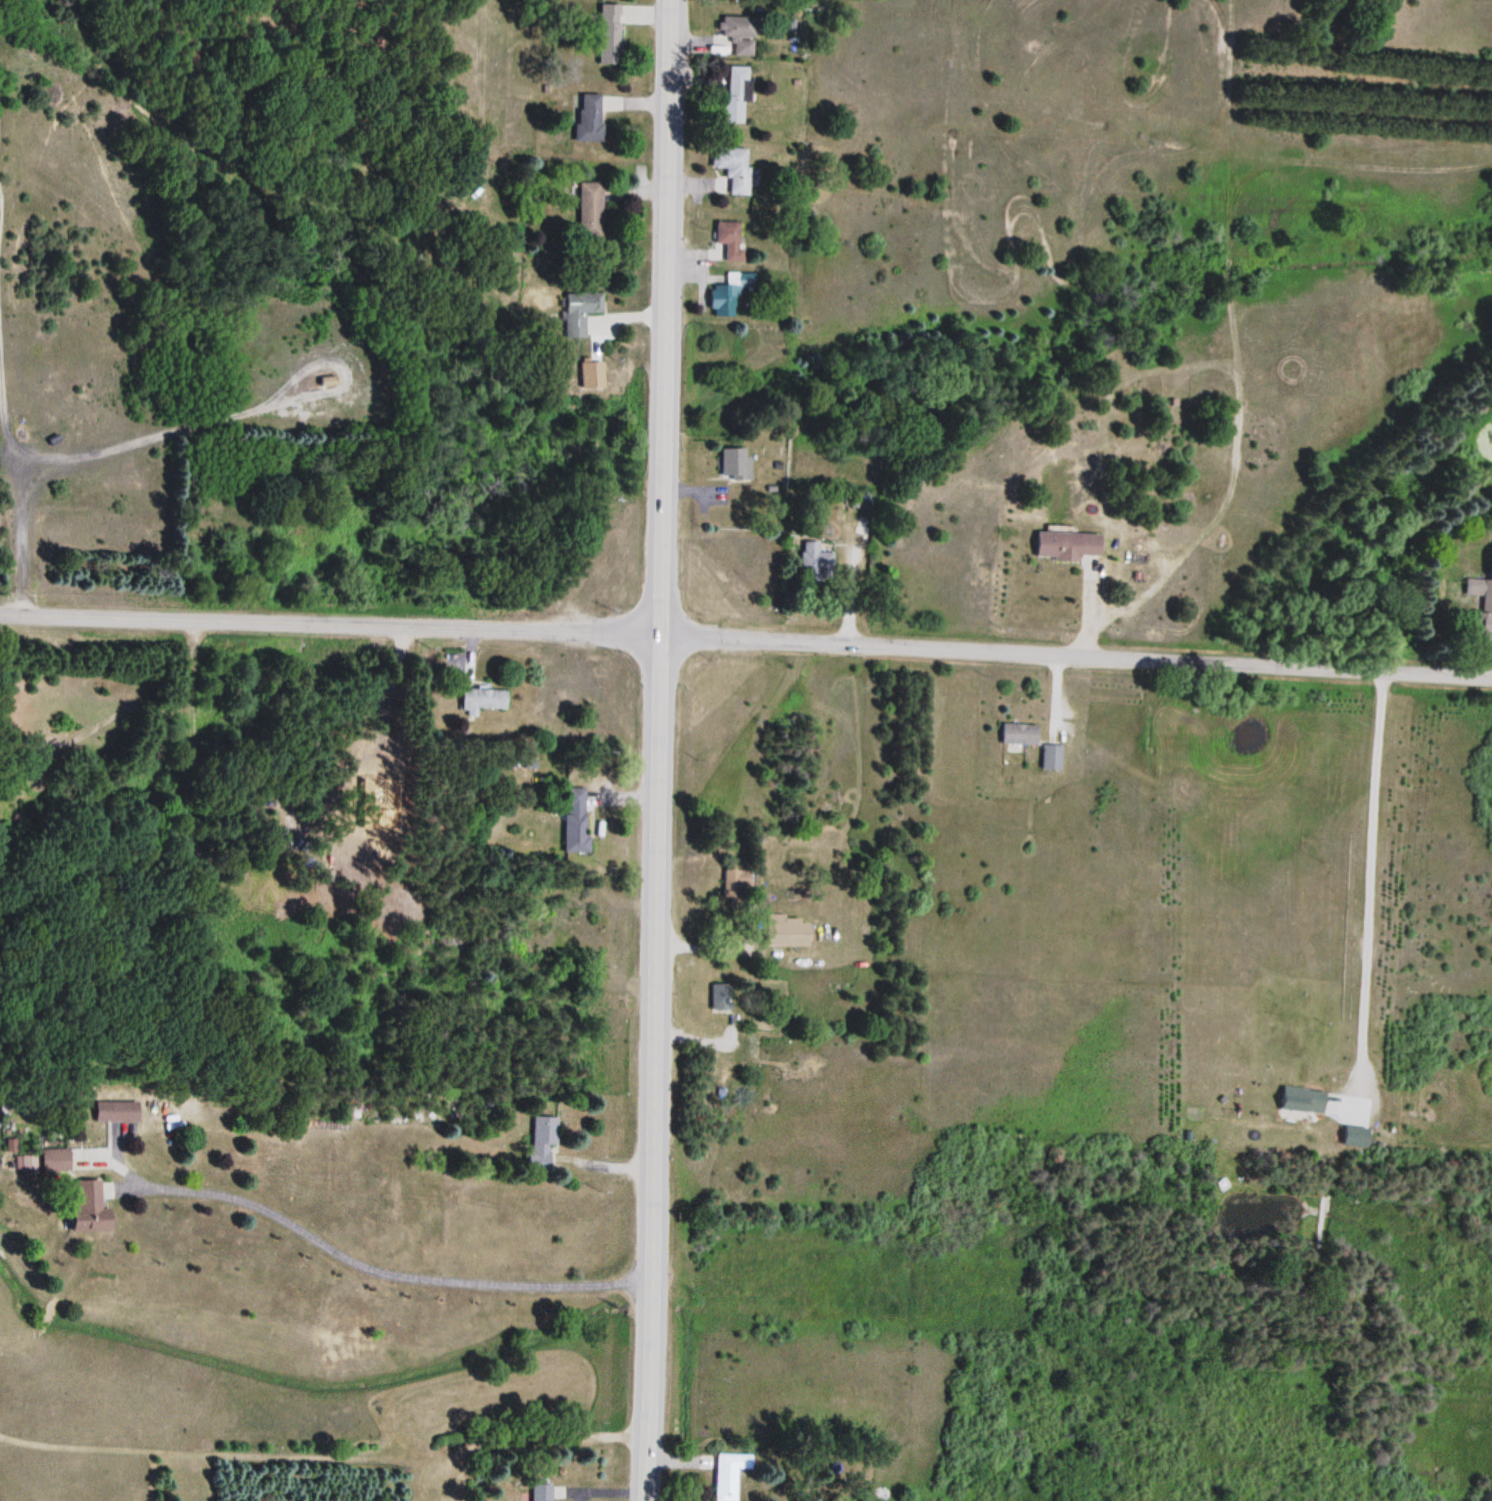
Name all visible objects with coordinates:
building: (737, 27)
building: (611, 35)
building: (738, 94)
building: (590, 111)
building: (735, 168)
building: (590, 209)
building: (731, 239)
building: (730, 294)
building: (580, 312)
building: (329, 381)
building: (736, 464)
building: (1071, 544)
building: (817, 561)
road: (328, 625)
building: (1488, 629)
road: (1075, 655)
building: (483, 701)
building: (1021, 735)
road: (656, 750)
building: (1053, 758)
building: (575, 821)
building: (736, 883)
building: (791, 933)
building: (721, 998)
building: (118, 1113)
building: (543, 1143)
building: (92, 1209)
building: (728, 1473)
building: (544, 1492)

